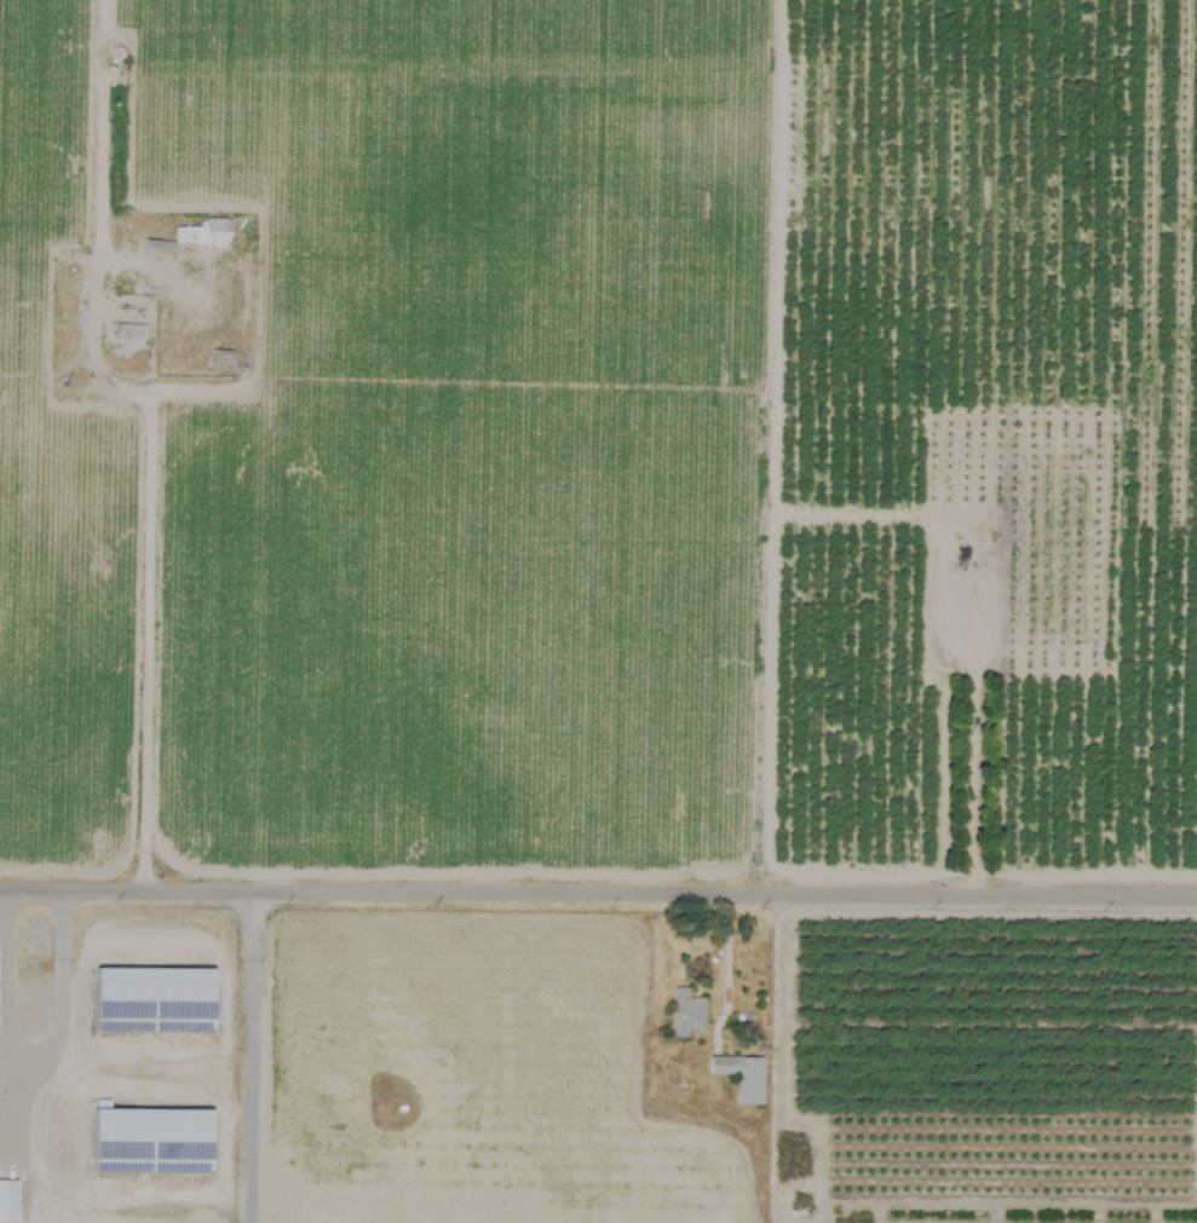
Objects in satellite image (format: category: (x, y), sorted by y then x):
building: (202, 233)
building: (126, 336)
crop: (629, 583)
road: (154, 610)
road: (598, 887)
road: (61, 990)
building: (151, 1000)
building: (684, 1013)
road: (6, 1020)
road: (251, 1054)
building: (740, 1077)
building: (150, 1141)
building: (7, 1201)

